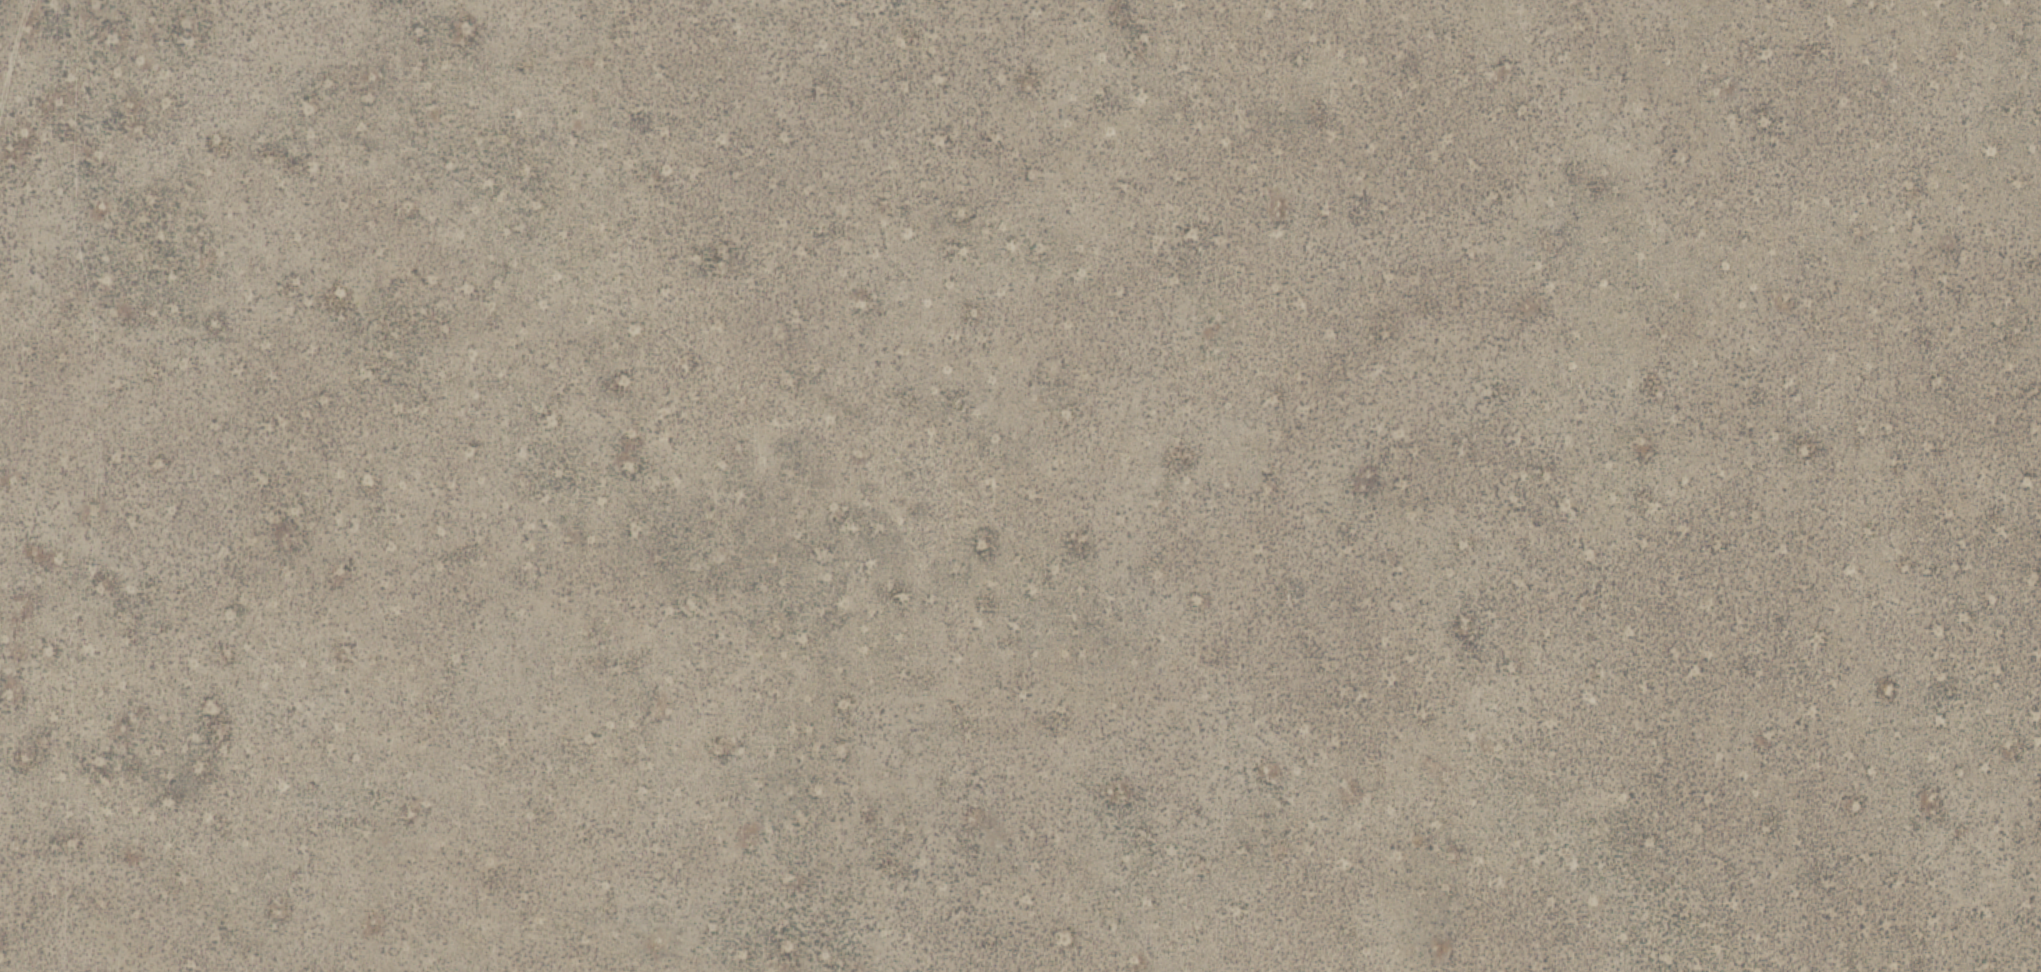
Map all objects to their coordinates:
road: (112, 485)

